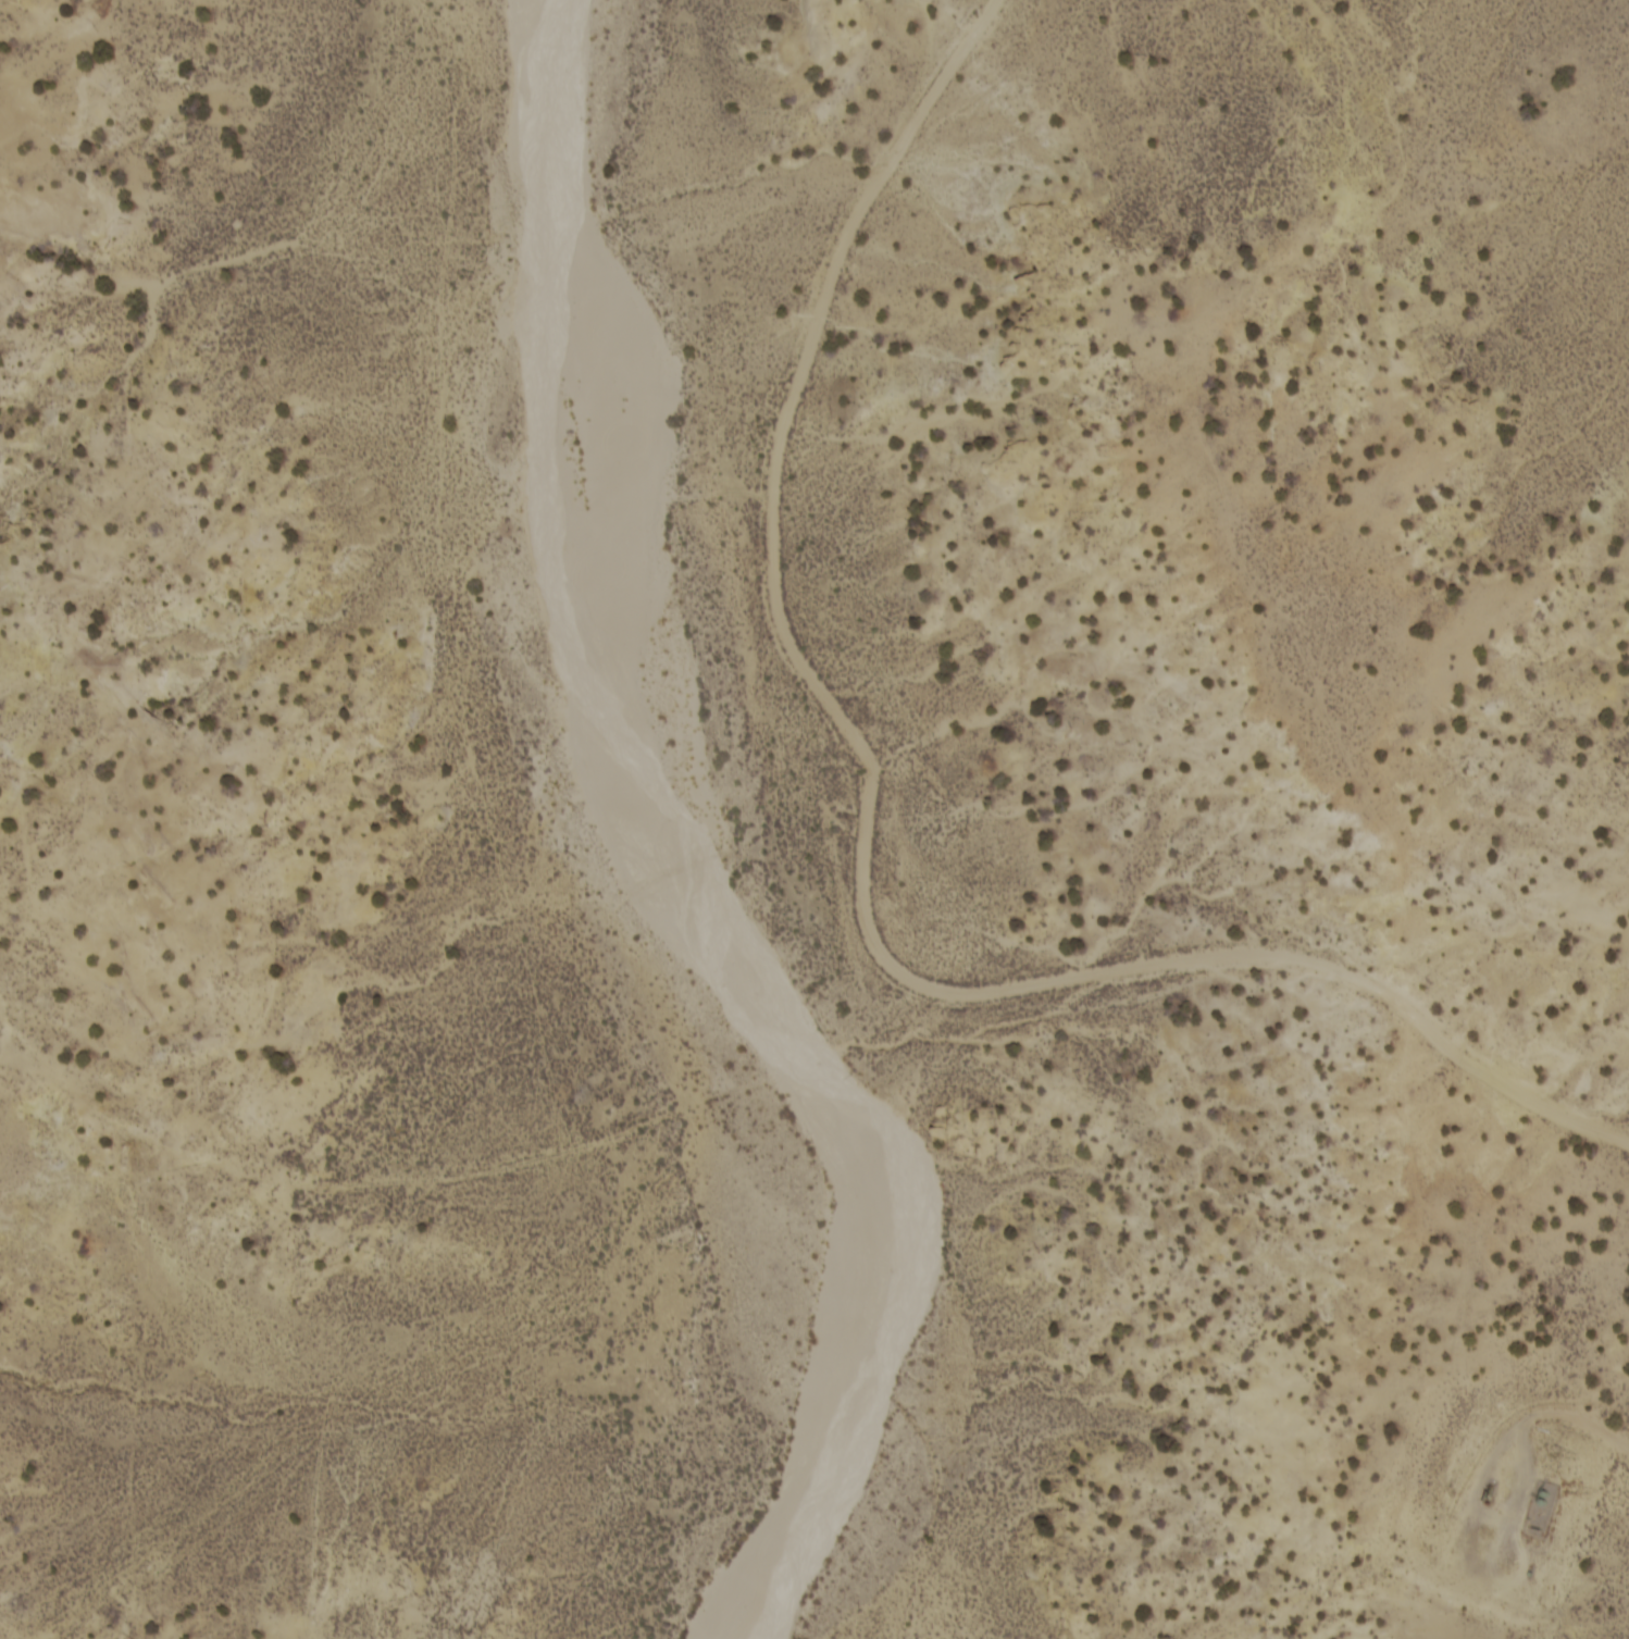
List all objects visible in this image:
river: (658, 848)
road: (824, 1117)
road: (440, 1433)
road: (3, 1636)

